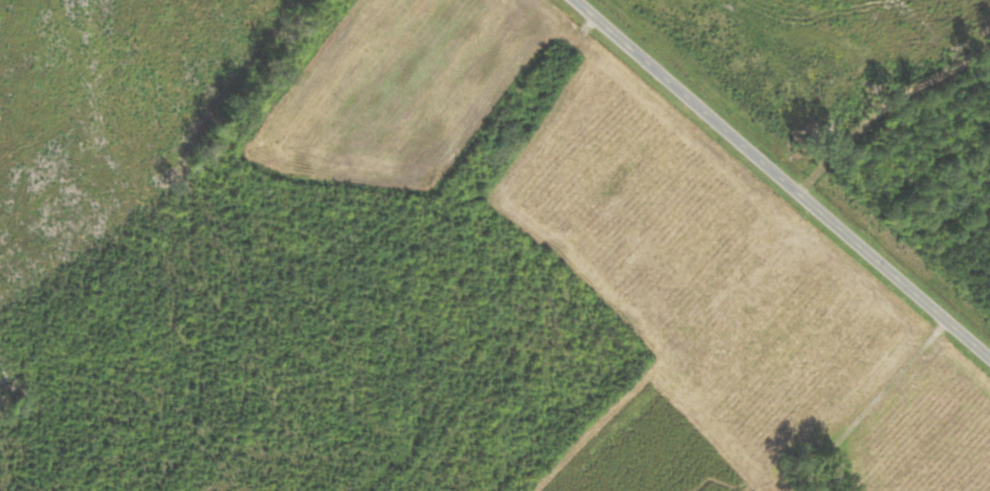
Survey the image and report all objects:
road: (780, 179)

